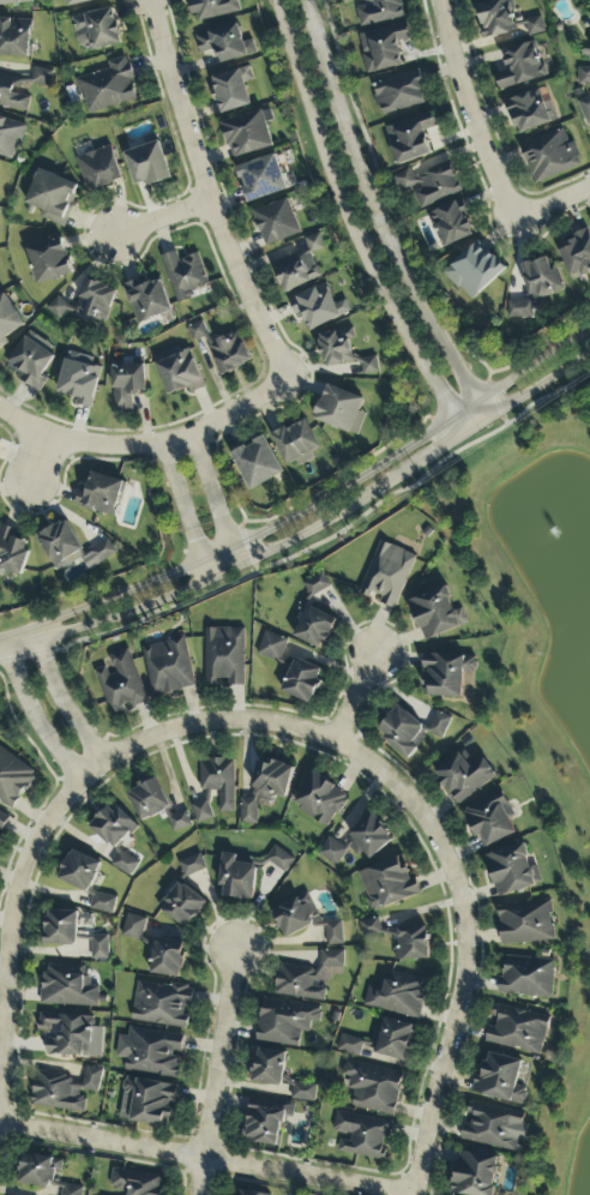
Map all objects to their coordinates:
building: (78, 1)
building: (16, 2)
building: (212, 8)
building: (378, 11)
building: (495, 19)
building: (534, 26)
building: (96, 30)
building: (14, 37)
building: (225, 44)
building: (383, 48)
building: (520, 66)
building: (584, 76)
building: (42, 77)
building: (107, 88)
building: (233, 89)
building: (14, 92)
building: (399, 94)
building: (585, 109)
road: (474, 110)
building: (529, 112)
building: (247, 134)
building: (10, 136)
building: (410, 138)
building: (550, 156)
building: (147, 164)
building: (100, 169)
building: (261, 179)
building: (431, 186)
road: (204, 194)
building: (52, 197)
road: (555, 204)
road: (351, 214)
road: (163, 216)
road: (378, 216)
building: (277, 222)
building: (452, 224)
building: (576, 254)
building: (49, 262)
building: (300, 266)
building: (474, 271)
building: (183, 275)
building: (541, 280)
building: (95, 300)
building: (146, 300)
building: (318, 307)
building: (58, 308)
building: (520, 310)
building: (7, 320)
building: (197, 331)
building: (336, 347)
building: (229, 353)
building: (30, 362)
building: (369, 366)
road: (520, 370)
building: (179, 371)
building: (79, 382)
building: (126, 385)
road: (528, 395)
building: (341, 410)
road: (20, 420)
road: (459, 425)
road: (168, 439)
building: (296, 443)
road: (34, 458)
building: (257, 463)
building: (100, 494)
road: (217, 494)
road: (186, 510)
road: (251, 539)
building: (72, 548)
building: (12, 552)
road: (259, 556)
building: (386, 575)
building: (317, 584)
fountain: (574, 586)
building: (435, 614)
building: (315, 626)
road: (17, 642)
building: (271, 647)
building: (224, 656)
building: (168, 667)
building: (446, 674)
building: (300, 679)
building: (120, 683)
road: (355, 697)
road: (62, 703)
road: (36, 716)
road: (204, 722)
building: (410, 731)
building: (13, 777)
building: (464, 777)
building: (215, 787)
building: (265, 789)
building: (149, 800)
building: (320, 800)
building: (2, 818)
building: (179, 821)
building: (490, 821)
building: (113, 827)
building: (357, 842)
building: (279, 859)
building: (125, 864)
building: (192, 865)
building: (512, 870)
building: (79, 871)
building: (237, 878)
building: (387, 884)
road: (14, 900)
building: (102, 903)
building: (182, 905)
building: (295, 917)
building: (525, 923)
building: (133, 927)
building: (371, 927)
building: (61, 929)
road: (465, 931)
building: (333, 933)
building: (411, 943)
building: (100, 948)
building: (168, 959)
building: (309, 977)
building: (526, 977)
building: (67, 987)
building: (397, 995)
building: (162, 1003)
building: (284, 1022)
building: (517, 1031)
building: (72, 1035)
building: (392, 1039)
building: (349, 1045)
building: (151, 1052)
building: (269, 1067)
road: (218, 1073)
building: (499, 1079)
building: (372, 1087)
building: (65, 1091)
building: (303, 1092)
building: (146, 1101)
building: (265, 1121)
building: (494, 1128)
building: (362, 1135)
road: (199, 1159)
building: (38, 1171)
building: (475, 1173)
building: (137, 1182)
building: (72, 1190)
building: (246, 1193)

